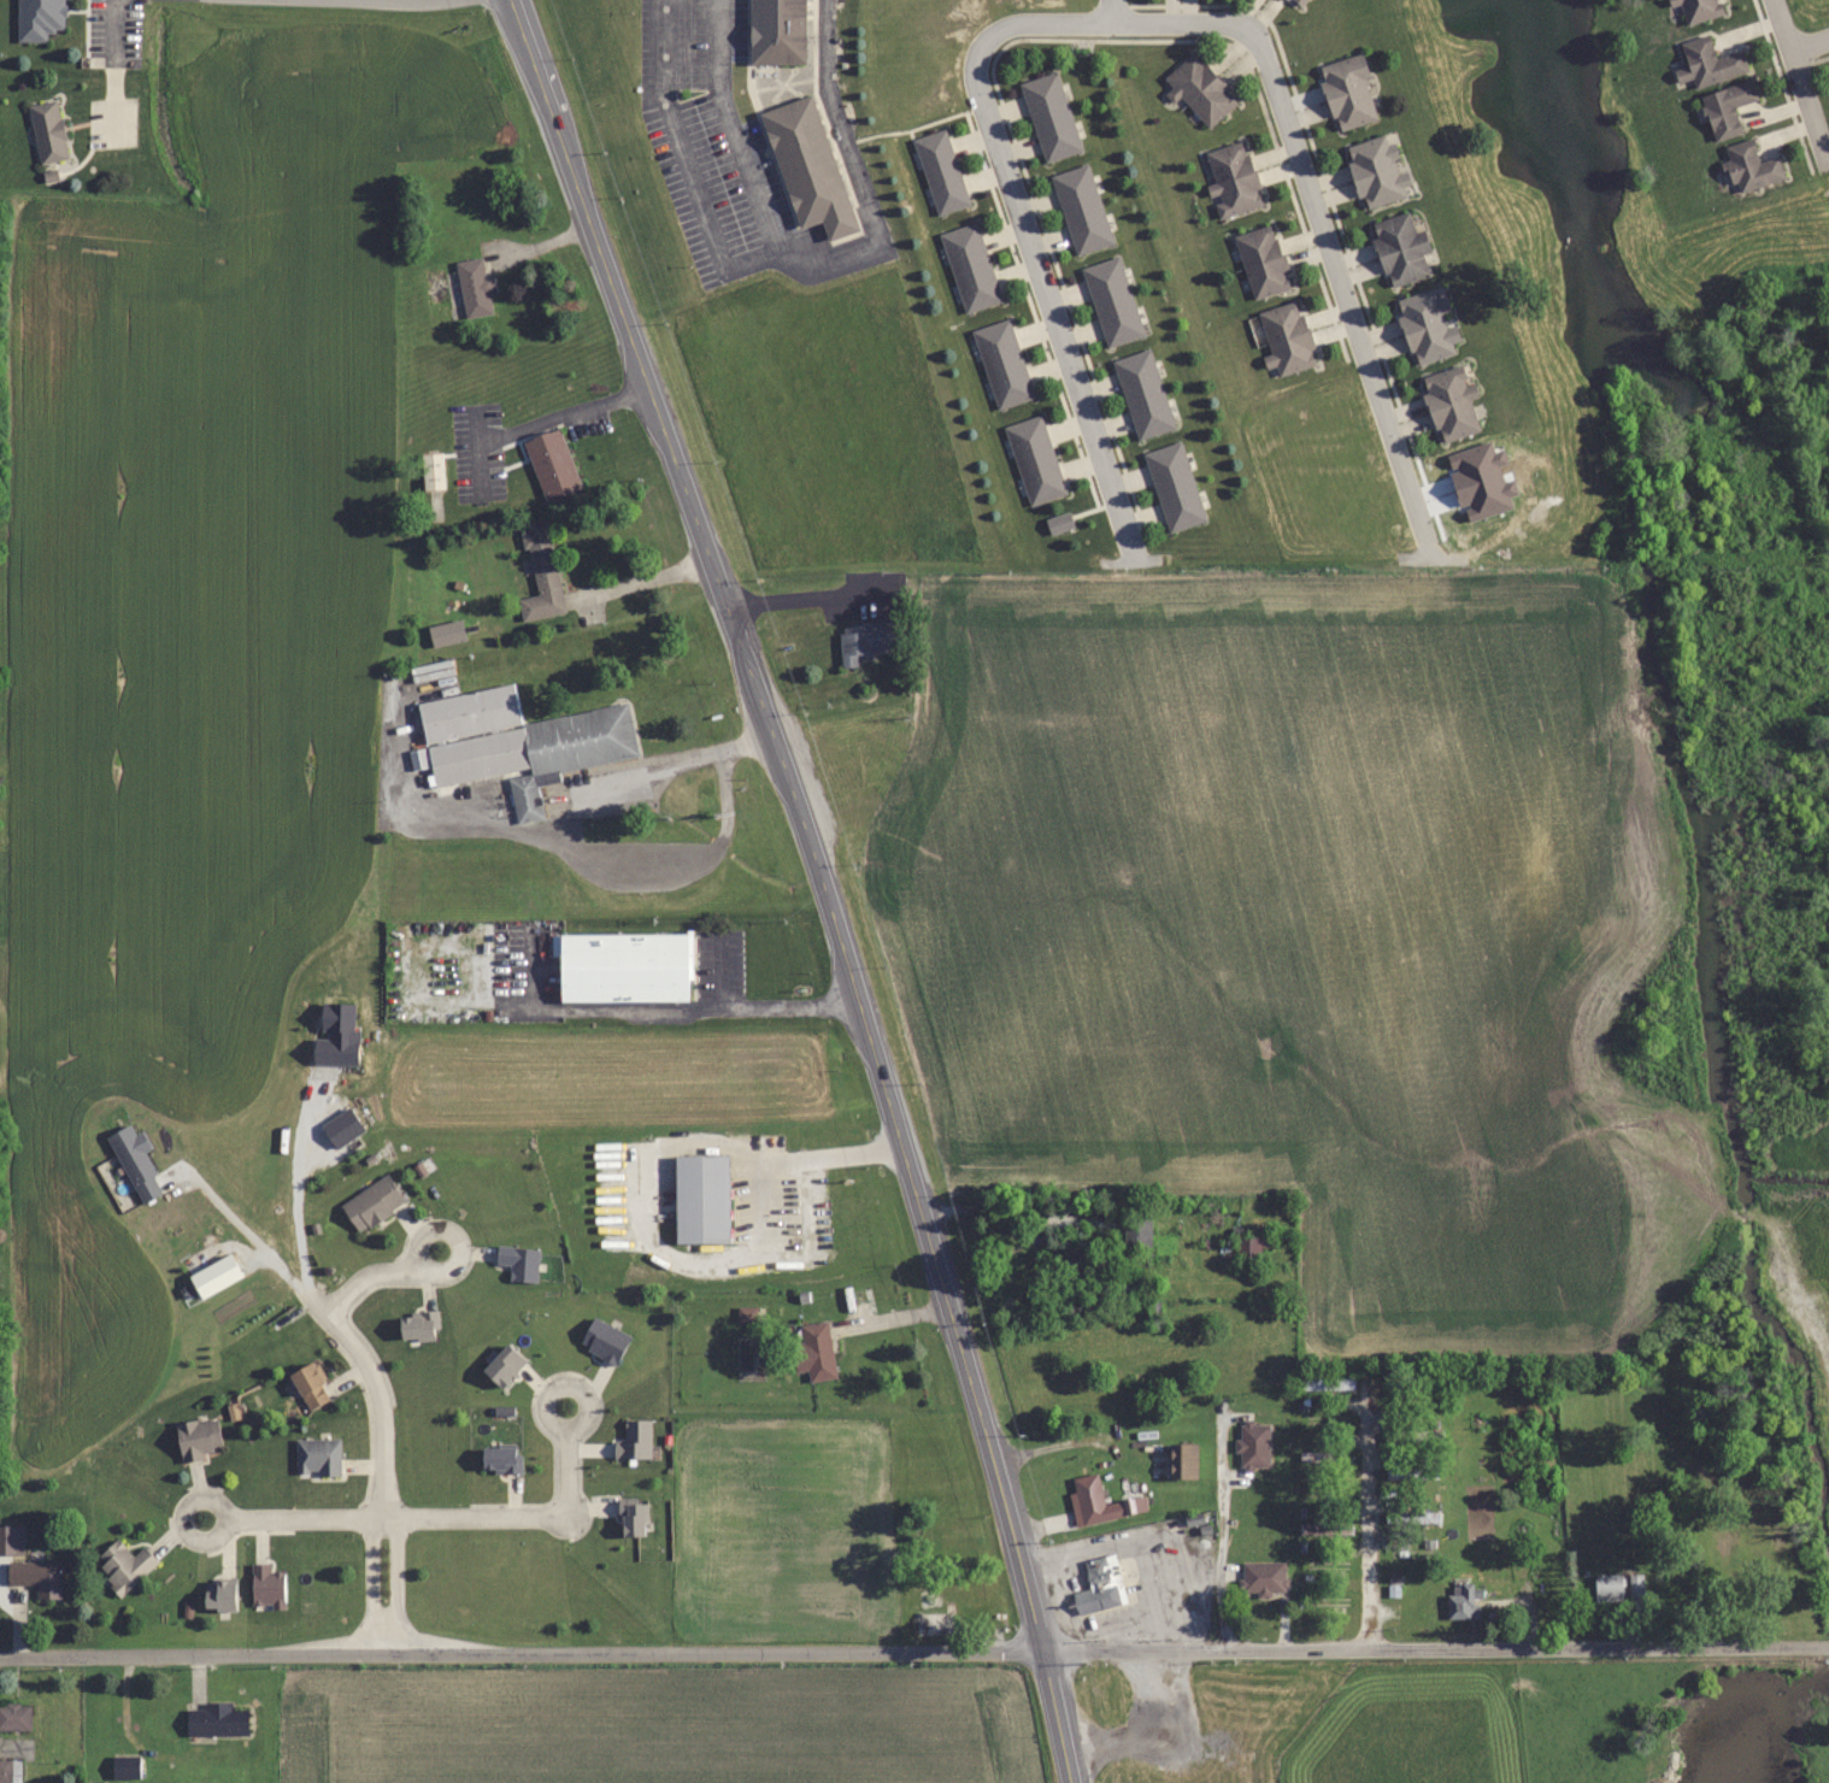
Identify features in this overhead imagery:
road: (390, 0)
building: (1300, 1)
building: (1699, 8)
building: (39, 18)
building: (776, 30)
road: (1811, 42)
road: (108, 58)
building: (1709, 61)
road: (1802, 82)
building: (1200, 88)
building: (1348, 92)
building: (1727, 107)
building: (1049, 117)
building: (47, 130)
building: (807, 166)
building: (1751, 166)
building: (940, 171)
building: (1376, 171)
building: (1233, 178)
building: (1081, 210)
road: (1317, 211)
road: (1028, 242)
building: (1400, 249)
building: (1263, 261)
building: (970, 267)
road: (818, 273)
building: (474, 288)
building: (1112, 302)
building: (1427, 326)
building: (1287, 339)
building: (1002, 364)
building: (1142, 394)
building: (1449, 402)
building: (1034, 460)
building: (552, 464)
building: (433, 471)
building: (1174, 487)
building: (1059, 523)
building: (541, 573)
building: (446, 632)
building: (866, 640)
building: (517, 742)
road: (605, 784)
road: (823, 881)
building: (623, 967)
road: (719, 971)
road: (660, 1007)
road: (836, 1157)
road: (295, 1196)
building: (701, 1199)
building: (371, 1204)
building: (1136, 1232)
road: (246, 1234)
road: (453, 1234)
building: (1248, 1249)
building: (1069, 1260)
building: (518, 1263)
road: (365, 1275)
building: (417, 1325)
building: (814, 1352)
road: (565, 1383)
building: (1327, 1383)
building: (310, 1385)
road: (374, 1395)
building: (1413, 1435)
building: (196, 1438)
building: (634, 1441)
building: (1253, 1444)
building: (317, 1457)
building: (1322, 1457)
building: (500, 1459)
building: (1412, 1473)
building: (1090, 1499)
road: (1372, 1511)
road: (439, 1514)
building: (631, 1517)
building: (1412, 1517)
road: (181, 1518)
building: (1325, 1529)
building: (124, 1565)
building: (1328, 1566)
building: (36, 1577)
building: (1263, 1578)
road: (396, 1582)
road: (369, 1583)
building: (1098, 1587)
building: (1393, 1587)
building: (1609, 1587)
building: (1462, 1600)
building: (930, 1623)
road: (1435, 1647)
road: (522, 1654)
building: (14, 1716)
building: (217, 1719)
building: (8, 1771)

